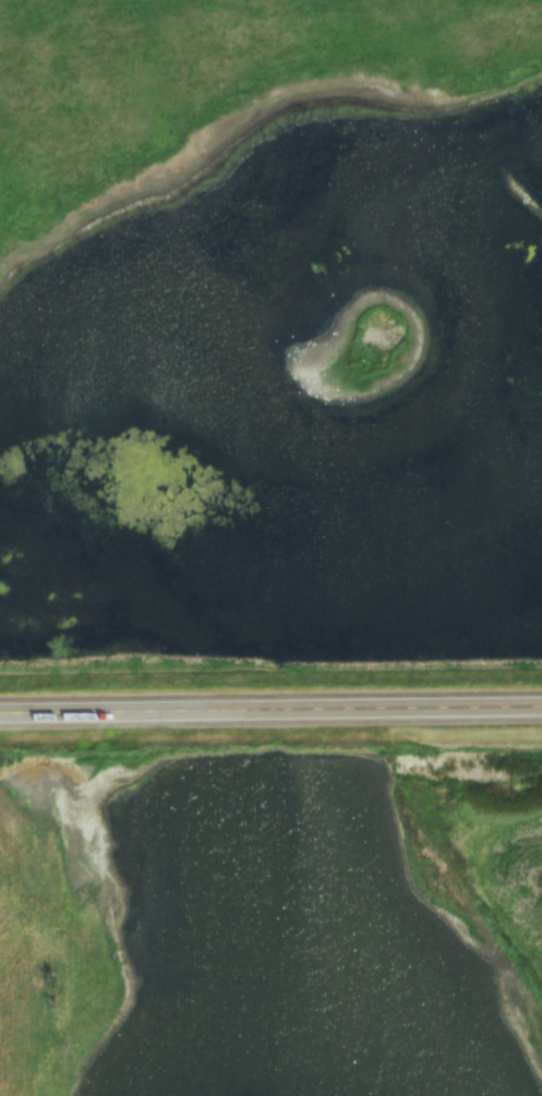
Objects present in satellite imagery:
road: (270, 709)

